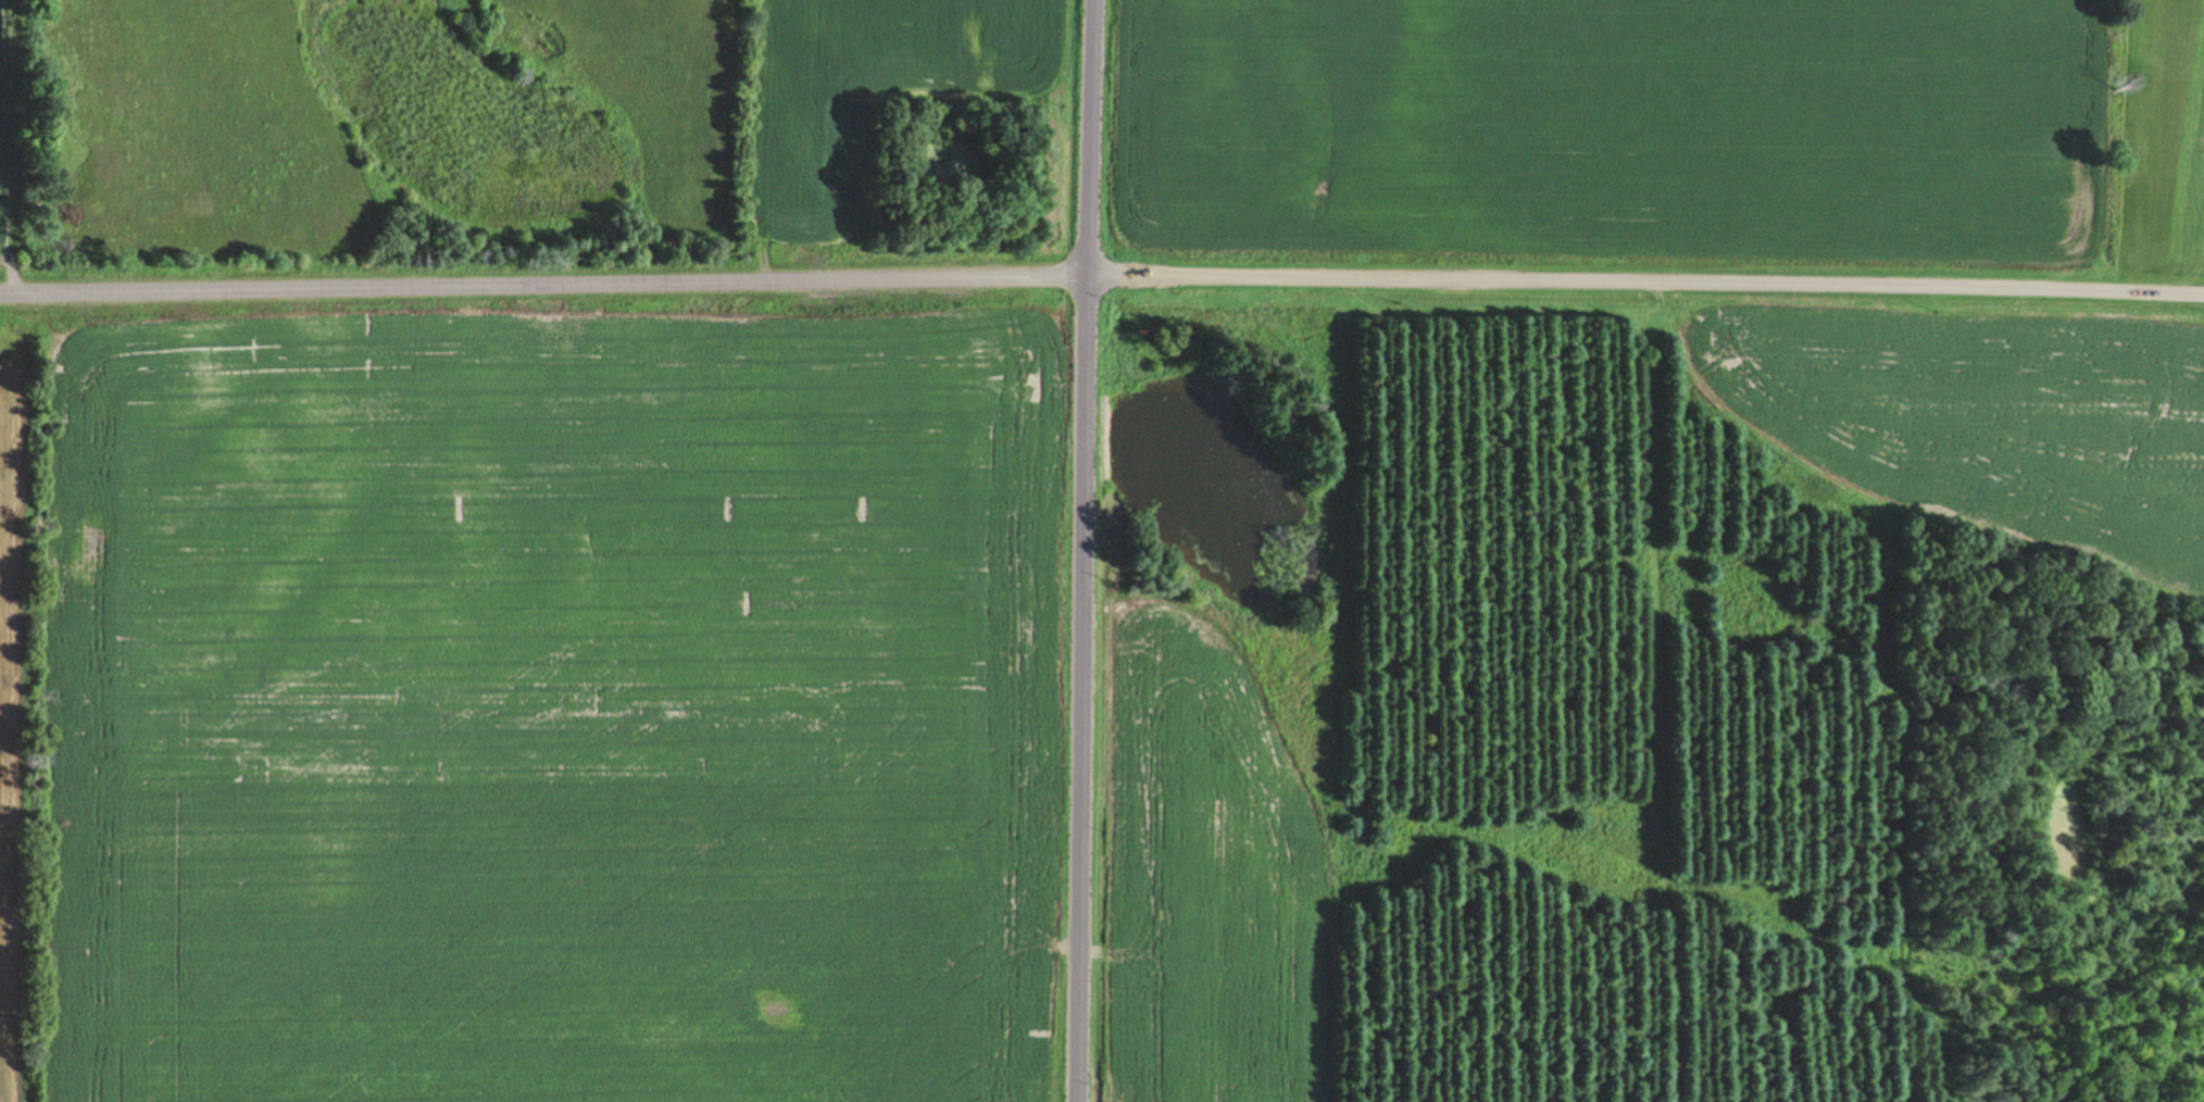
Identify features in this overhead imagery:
road: (1102, 299)
road: (1097, 550)

